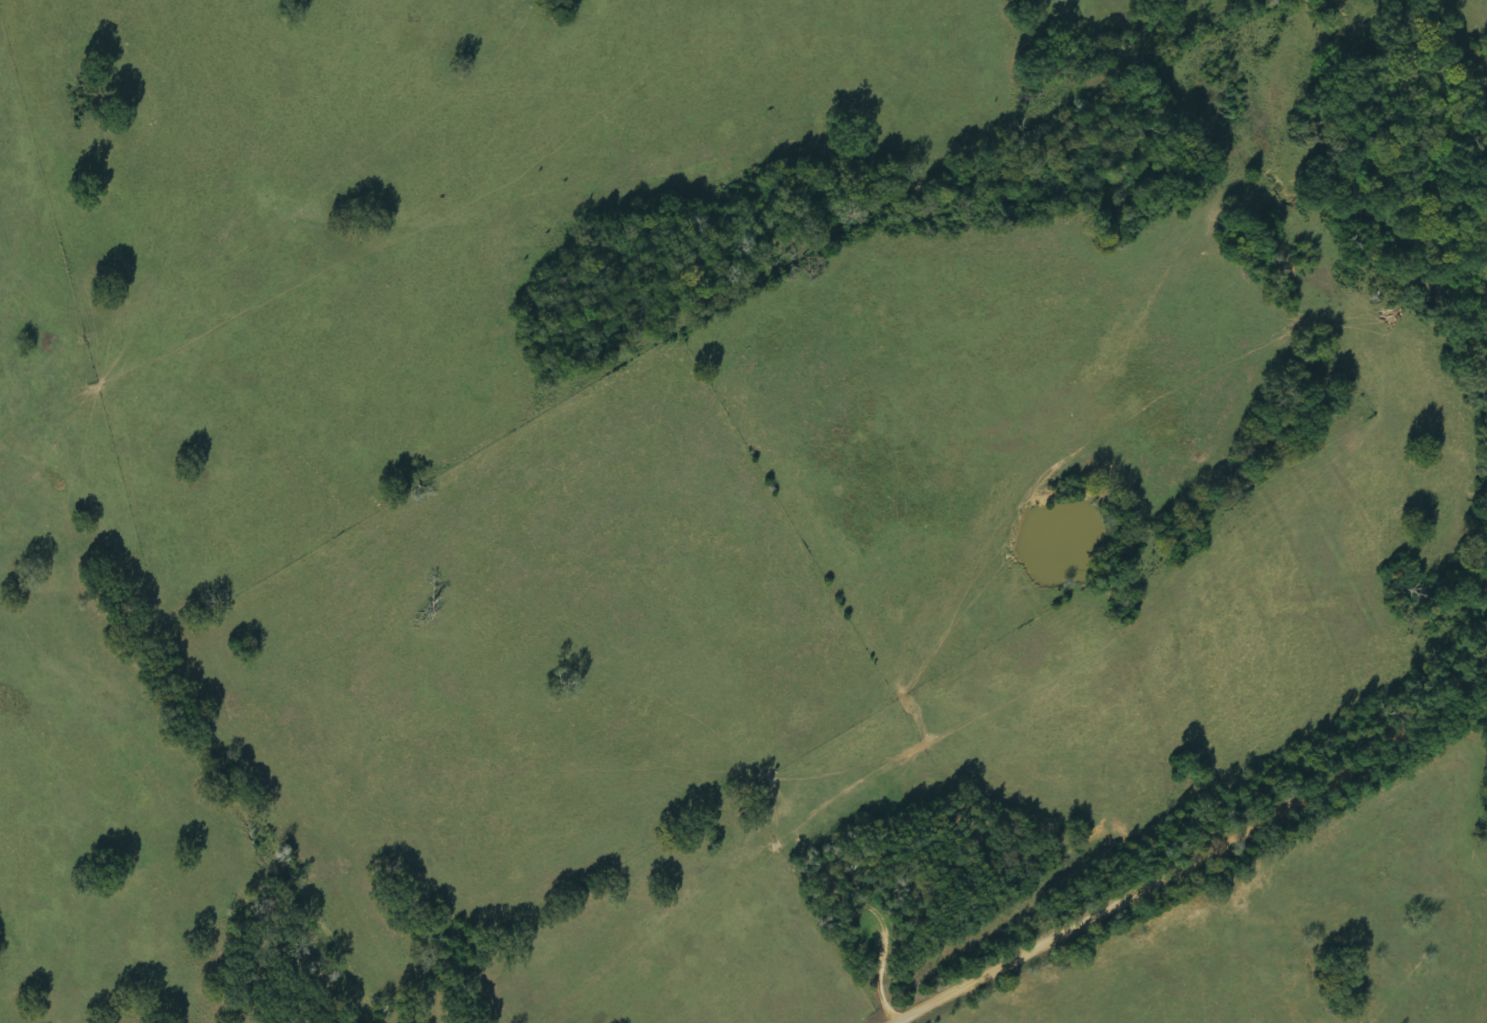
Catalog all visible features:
road: (1200, 856)

